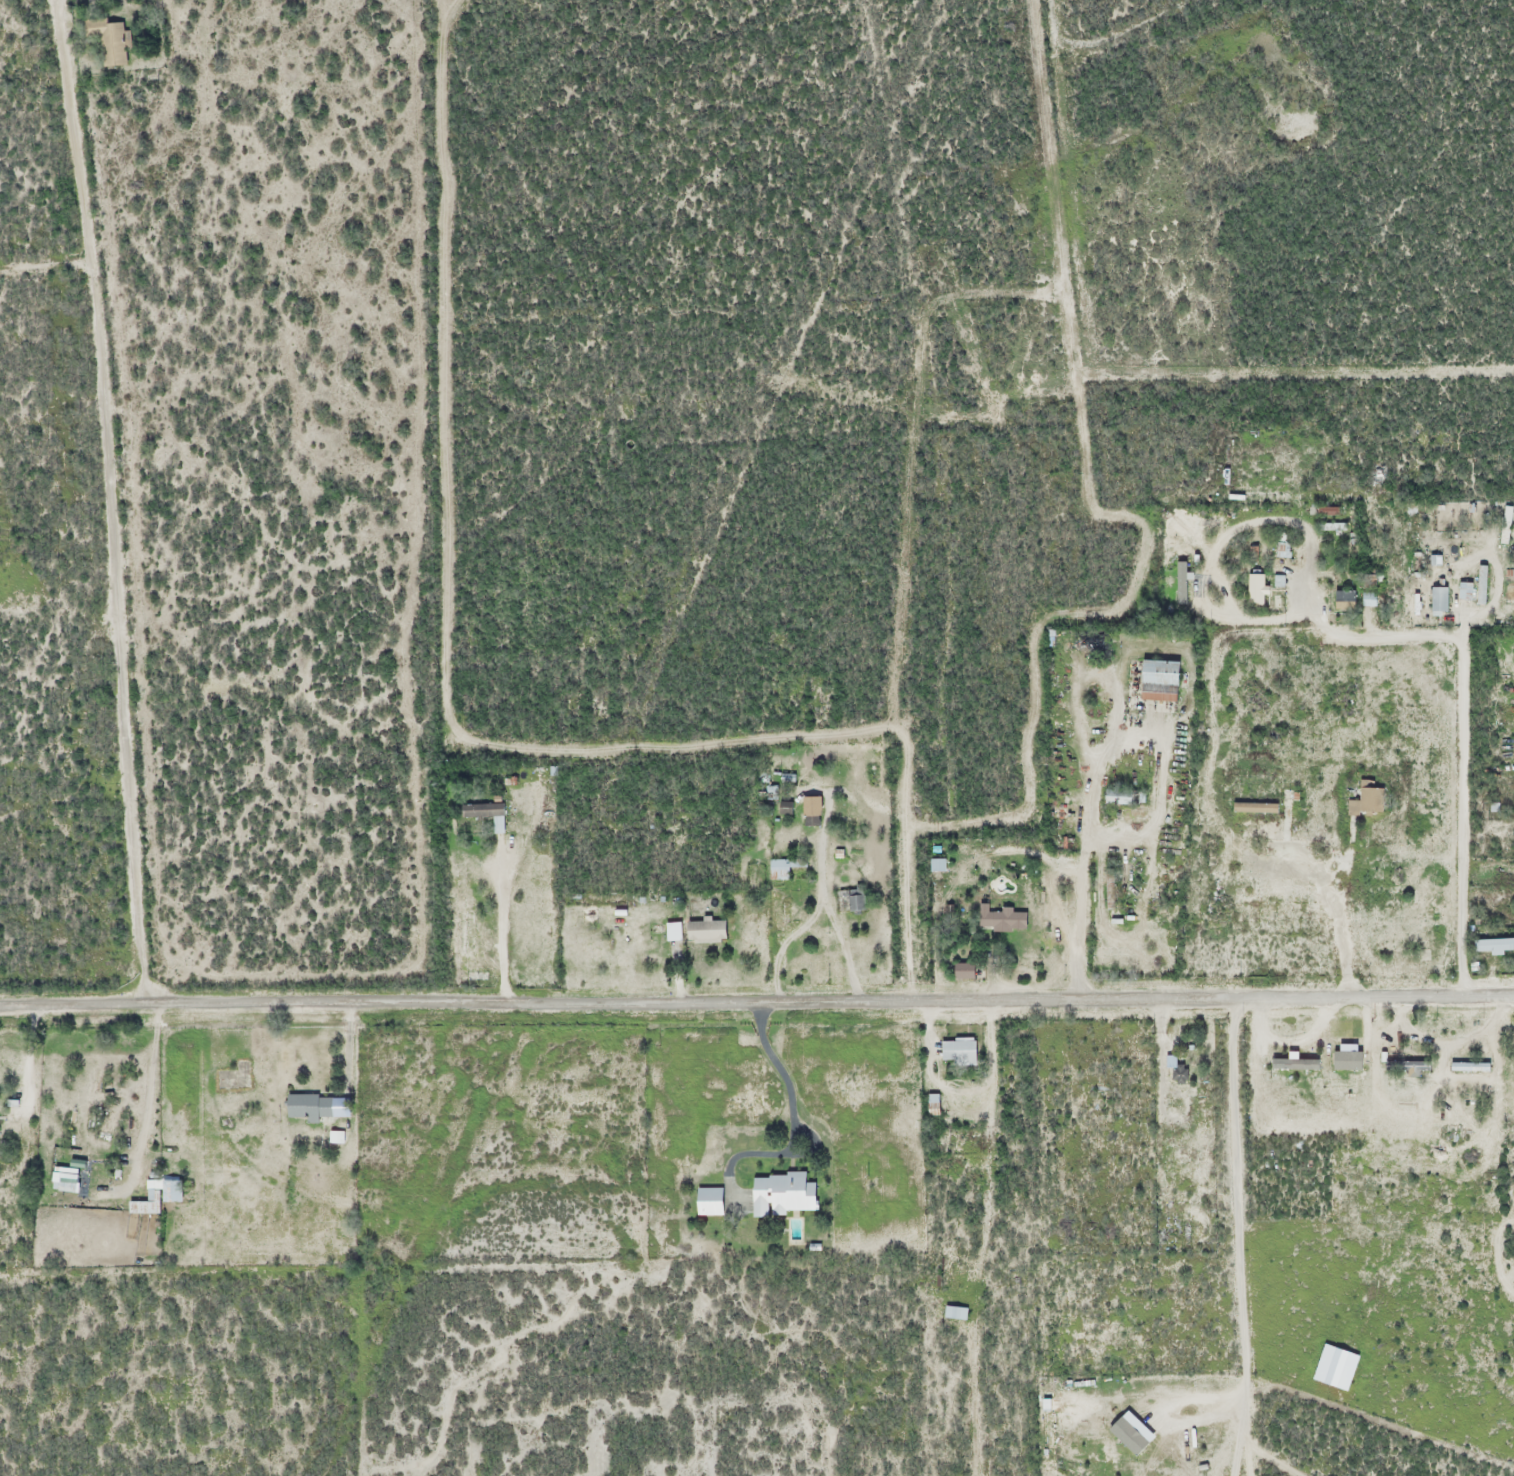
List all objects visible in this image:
building: (114, 44)
road: (106, 499)
building: (1504, 525)
building: (1332, 538)
building: (1280, 550)
building: (1479, 585)
building: (1187, 587)
building: (1253, 589)
building: (1461, 591)
building: (1341, 600)
building: (1436, 600)
building: (1154, 681)
road: (1460, 751)
building: (1117, 797)
building: (1362, 803)
building: (487, 813)
building: (809, 813)
building: (935, 865)
building: (782, 868)
building: (1106, 887)
building: (853, 900)
building: (999, 919)
building: (694, 931)
building: (670, 932)
building: (471, 933)
building: (1490, 946)
building: (476, 976)
road: (756, 997)
building: (959, 1051)
building: (1293, 1064)
building: (1176, 1074)
building: (1093, 1101)
building: (930, 1104)
building: (312, 1106)
building: (0, 1125)
building: (68, 1178)
building: (155, 1189)
building: (180, 1191)
building: (779, 1192)
road: (1234, 1235)
building: (952, 1312)

